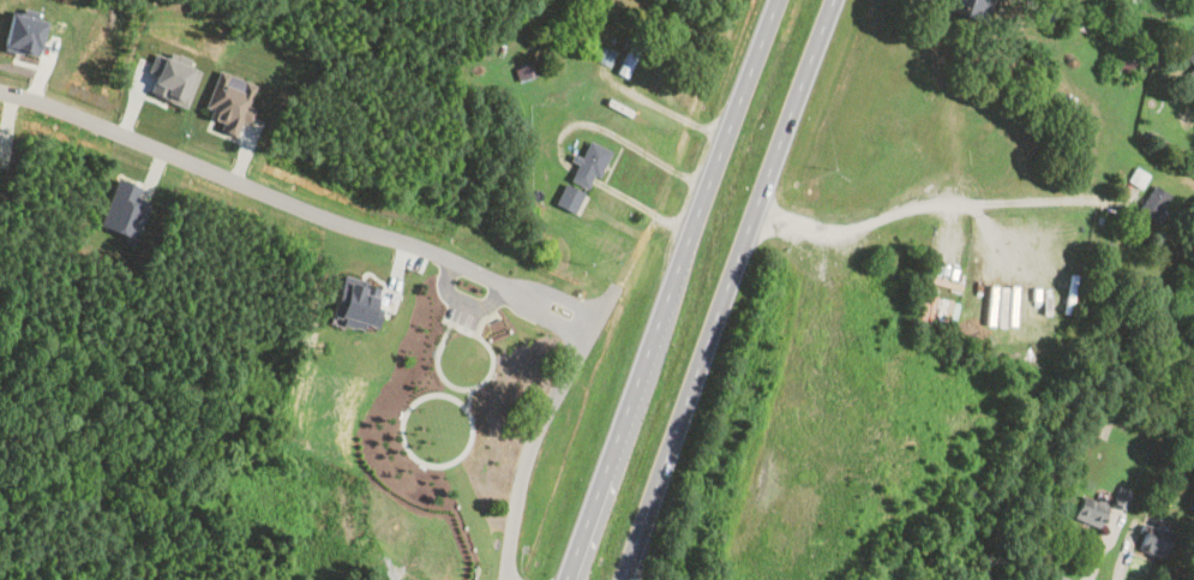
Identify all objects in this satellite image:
building: (970, 7)
building: (1054, 11)
building: (1085, 22)
building: (24, 32)
building: (635, 49)
building: (606, 55)
building: (1128, 56)
building: (1190, 61)
building: (529, 70)
building: (172, 78)
building: (1063, 100)
building: (230, 101)
road: (658, 103)
road: (618, 137)
building: (590, 162)
road: (613, 165)
road: (608, 166)
building: (1139, 177)
building: (569, 197)
road: (946, 202)
road: (298, 204)
road: (641, 204)
building: (1153, 204)
building: (125, 210)
road: (983, 217)
road: (622, 225)
road: (670, 288)
road: (724, 288)
building: (356, 301)
road: (538, 427)
building: (1122, 496)
building: (1092, 510)
building: (1150, 543)
road: (1044, 576)

